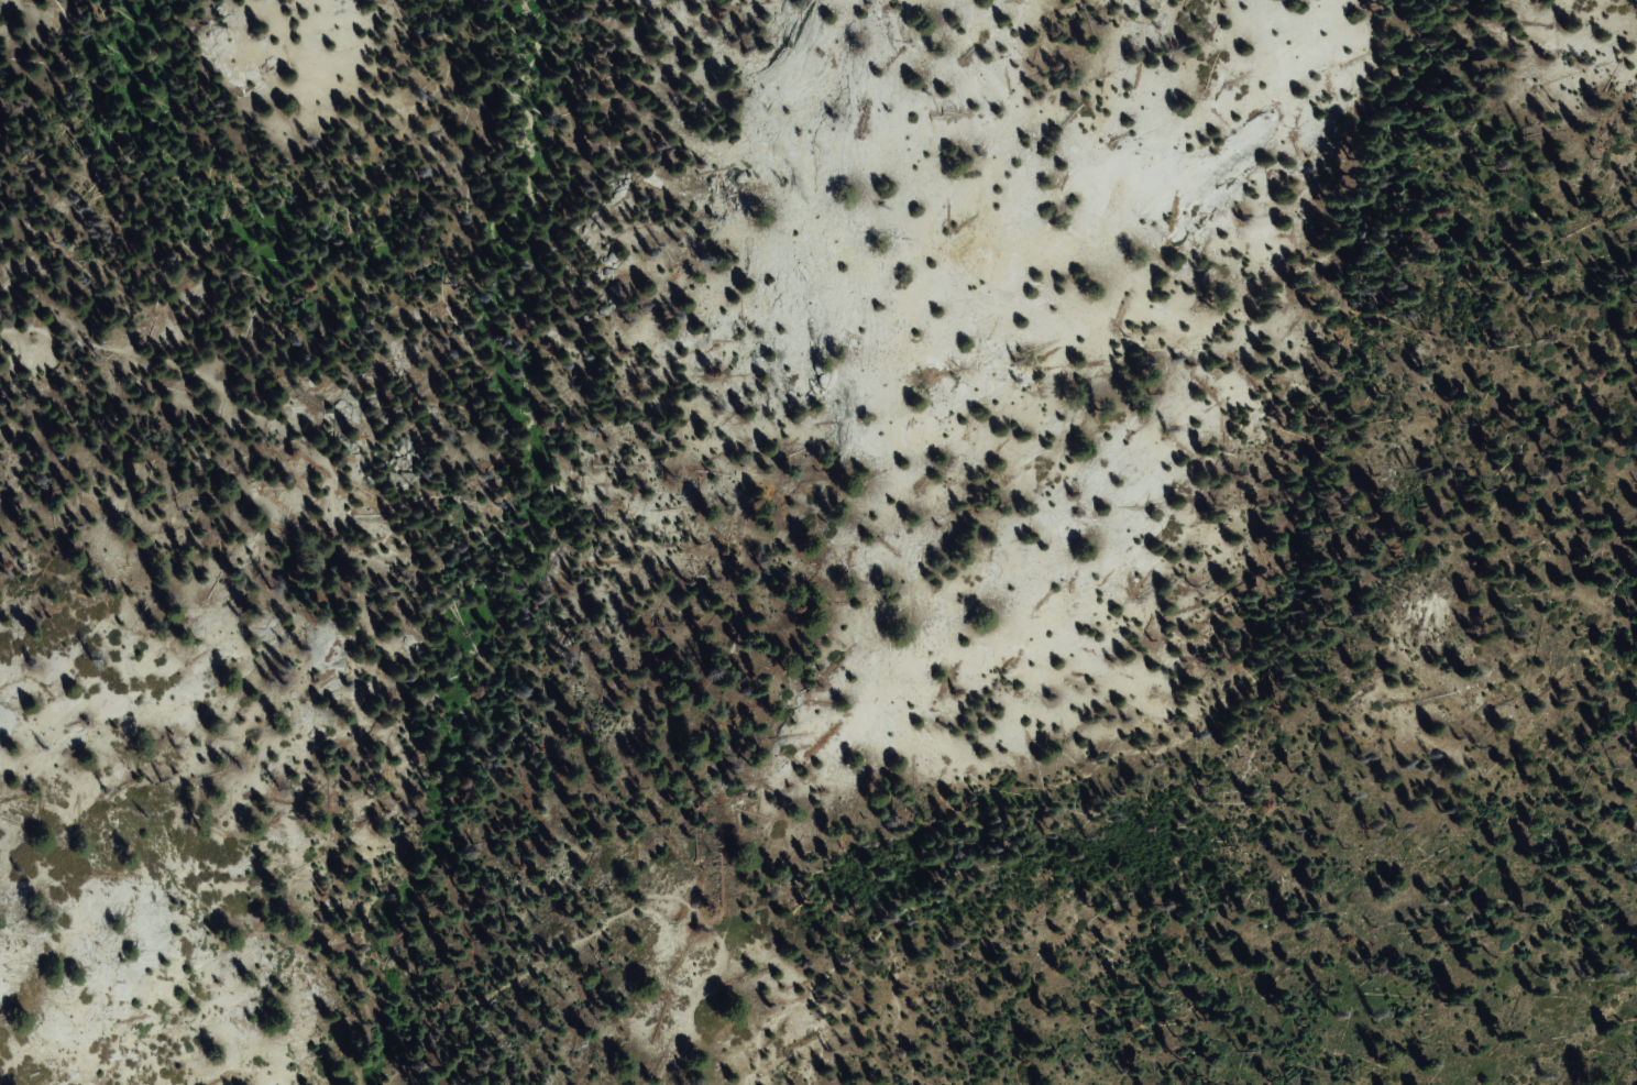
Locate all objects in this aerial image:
road: (359, 578)
road: (617, 911)

